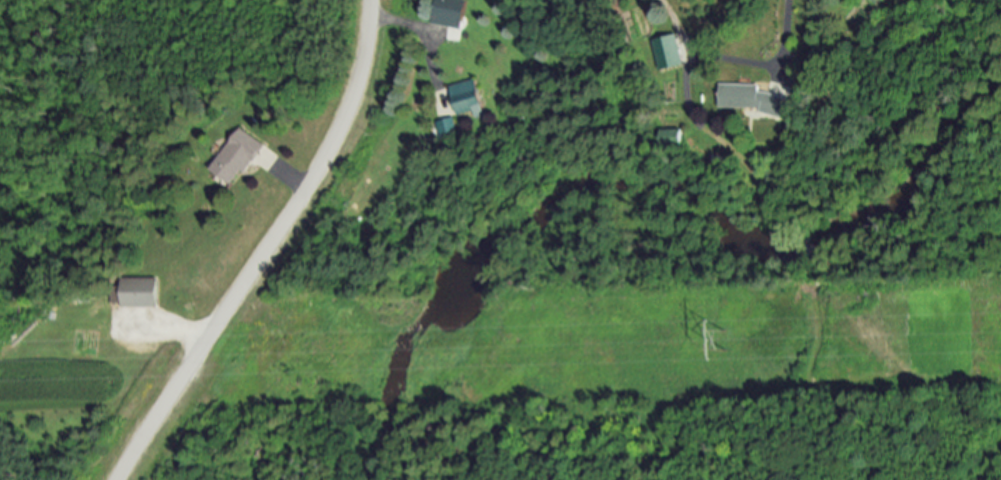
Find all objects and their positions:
building: (449, 13)
road: (787, 30)
road: (422, 37)
building: (668, 52)
road: (709, 56)
building: (465, 98)
building: (751, 99)
building: (444, 128)
building: (234, 157)
road: (285, 180)
river: (643, 194)
road: (261, 247)
building: (137, 292)
road: (167, 329)
power tower: (728, 338)

